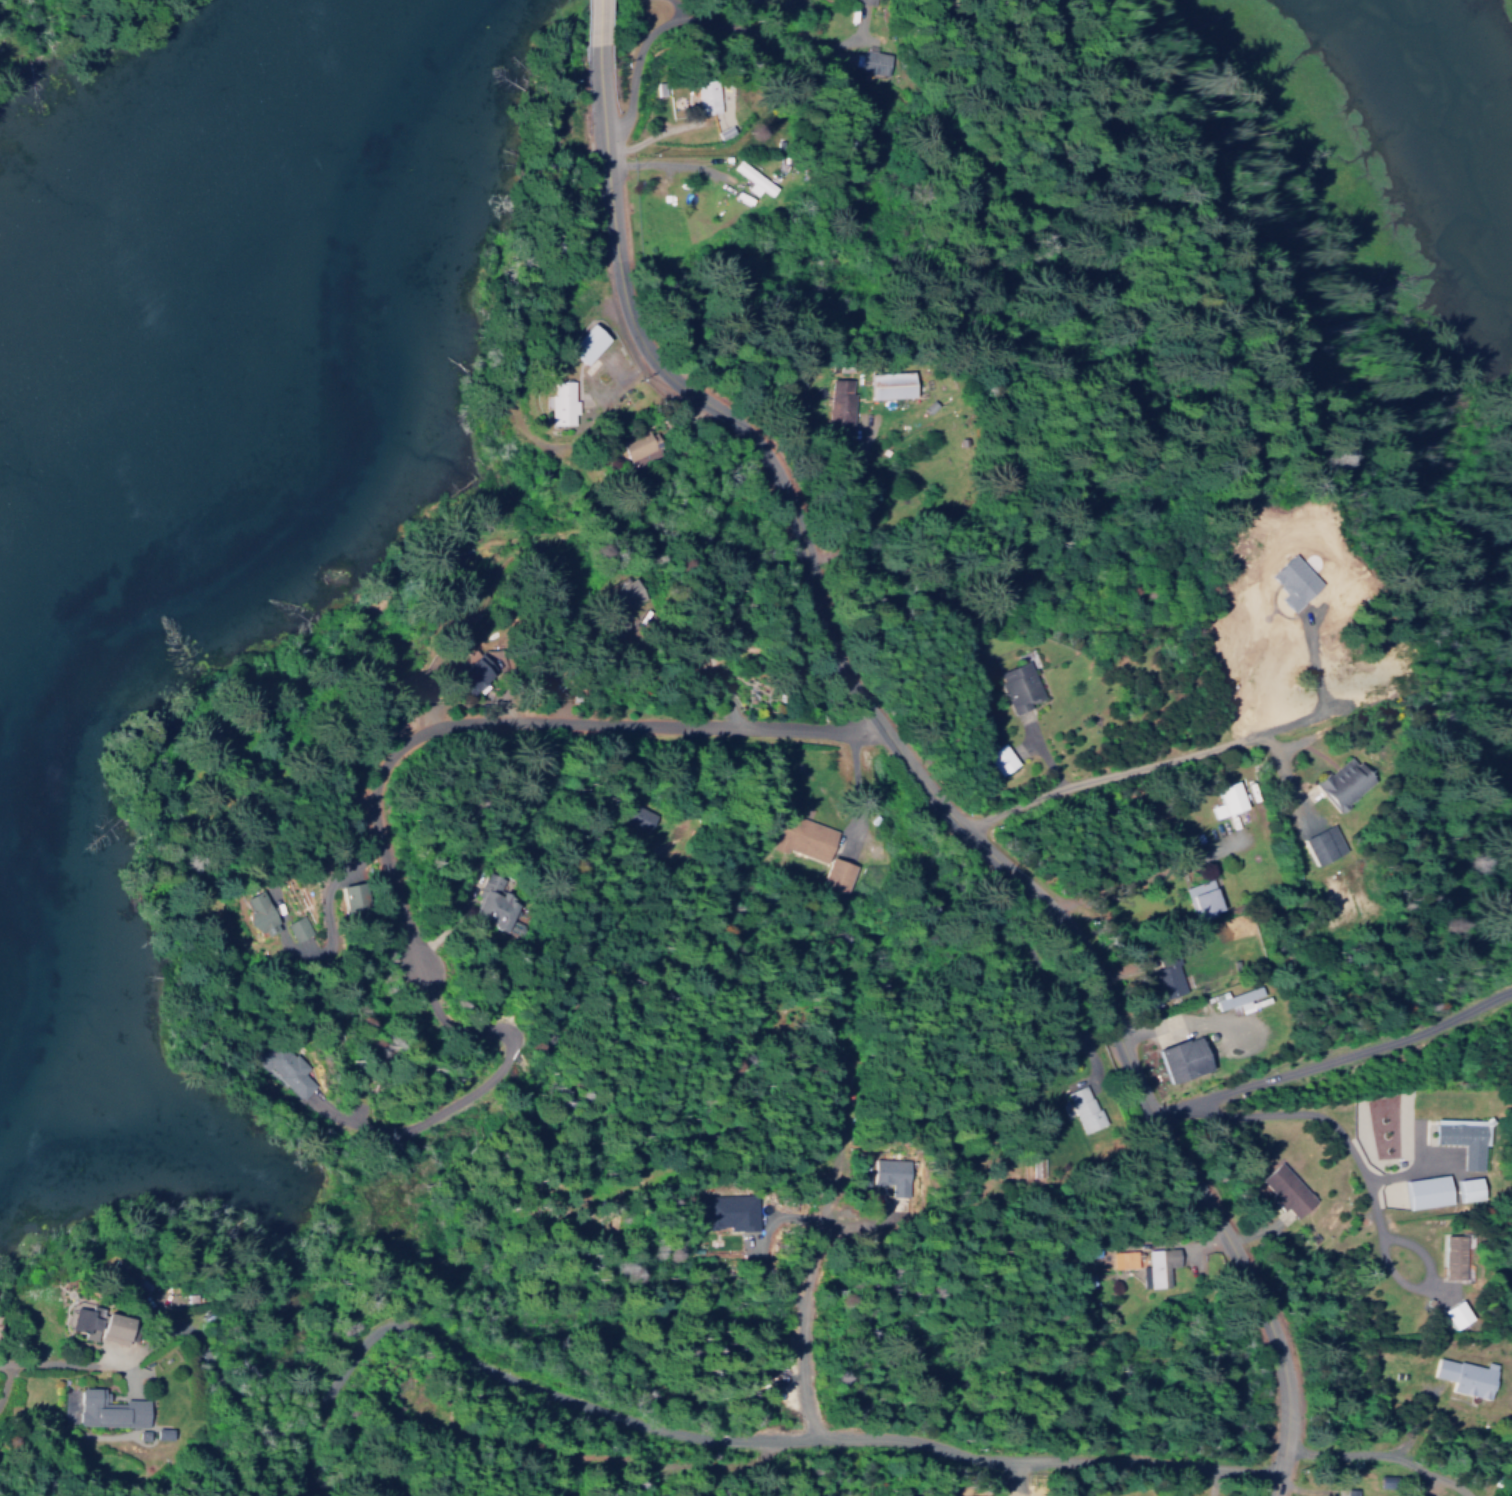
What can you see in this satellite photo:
building: (859, 2)
road: (594, 19)
building: (877, 58)
building: (702, 92)
building: (754, 174)
building: (587, 339)
building: (891, 380)
building: (561, 399)
building: (839, 405)
building: (638, 444)
building: (622, 604)
building: (1020, 683)
road: (517, 718)
building: (1001, 755)
road: (1138, 763)
road: (856, 778)
road: (897, 779)
building: (1343, 779)
building: (1228, 795)
building: (635, 817)
building: (803, 832)
building: (1322, 840)
building: (836, 870)
road: (1136, 872)
building: (1202, 894)
building: (349, 897)
building: (256, 913)
building: (1136, 975)
building: (1164, 975)
building: (1238, 994)
building: (1165, 1059)
building: (288, 1071)
building: (1085, 1104)
building: (1464, 1135)
building: (884, 1174)
building: (1287, 1186)
building: (1460, 1190)
building: (1421, 1191)
building: (730, 1211)
road: (810, 1238)
building: (1457, 1252)
building: (1122, 1259)
building: (1449, 1314)
building: (84, 1318)
building: (120, 1327)
building: (1466, 1372)
building: (110, 1409)
road: (626, 1417)
road: (1414, 1422)
road: (1366, 1451)
building: (1346, 1492)

